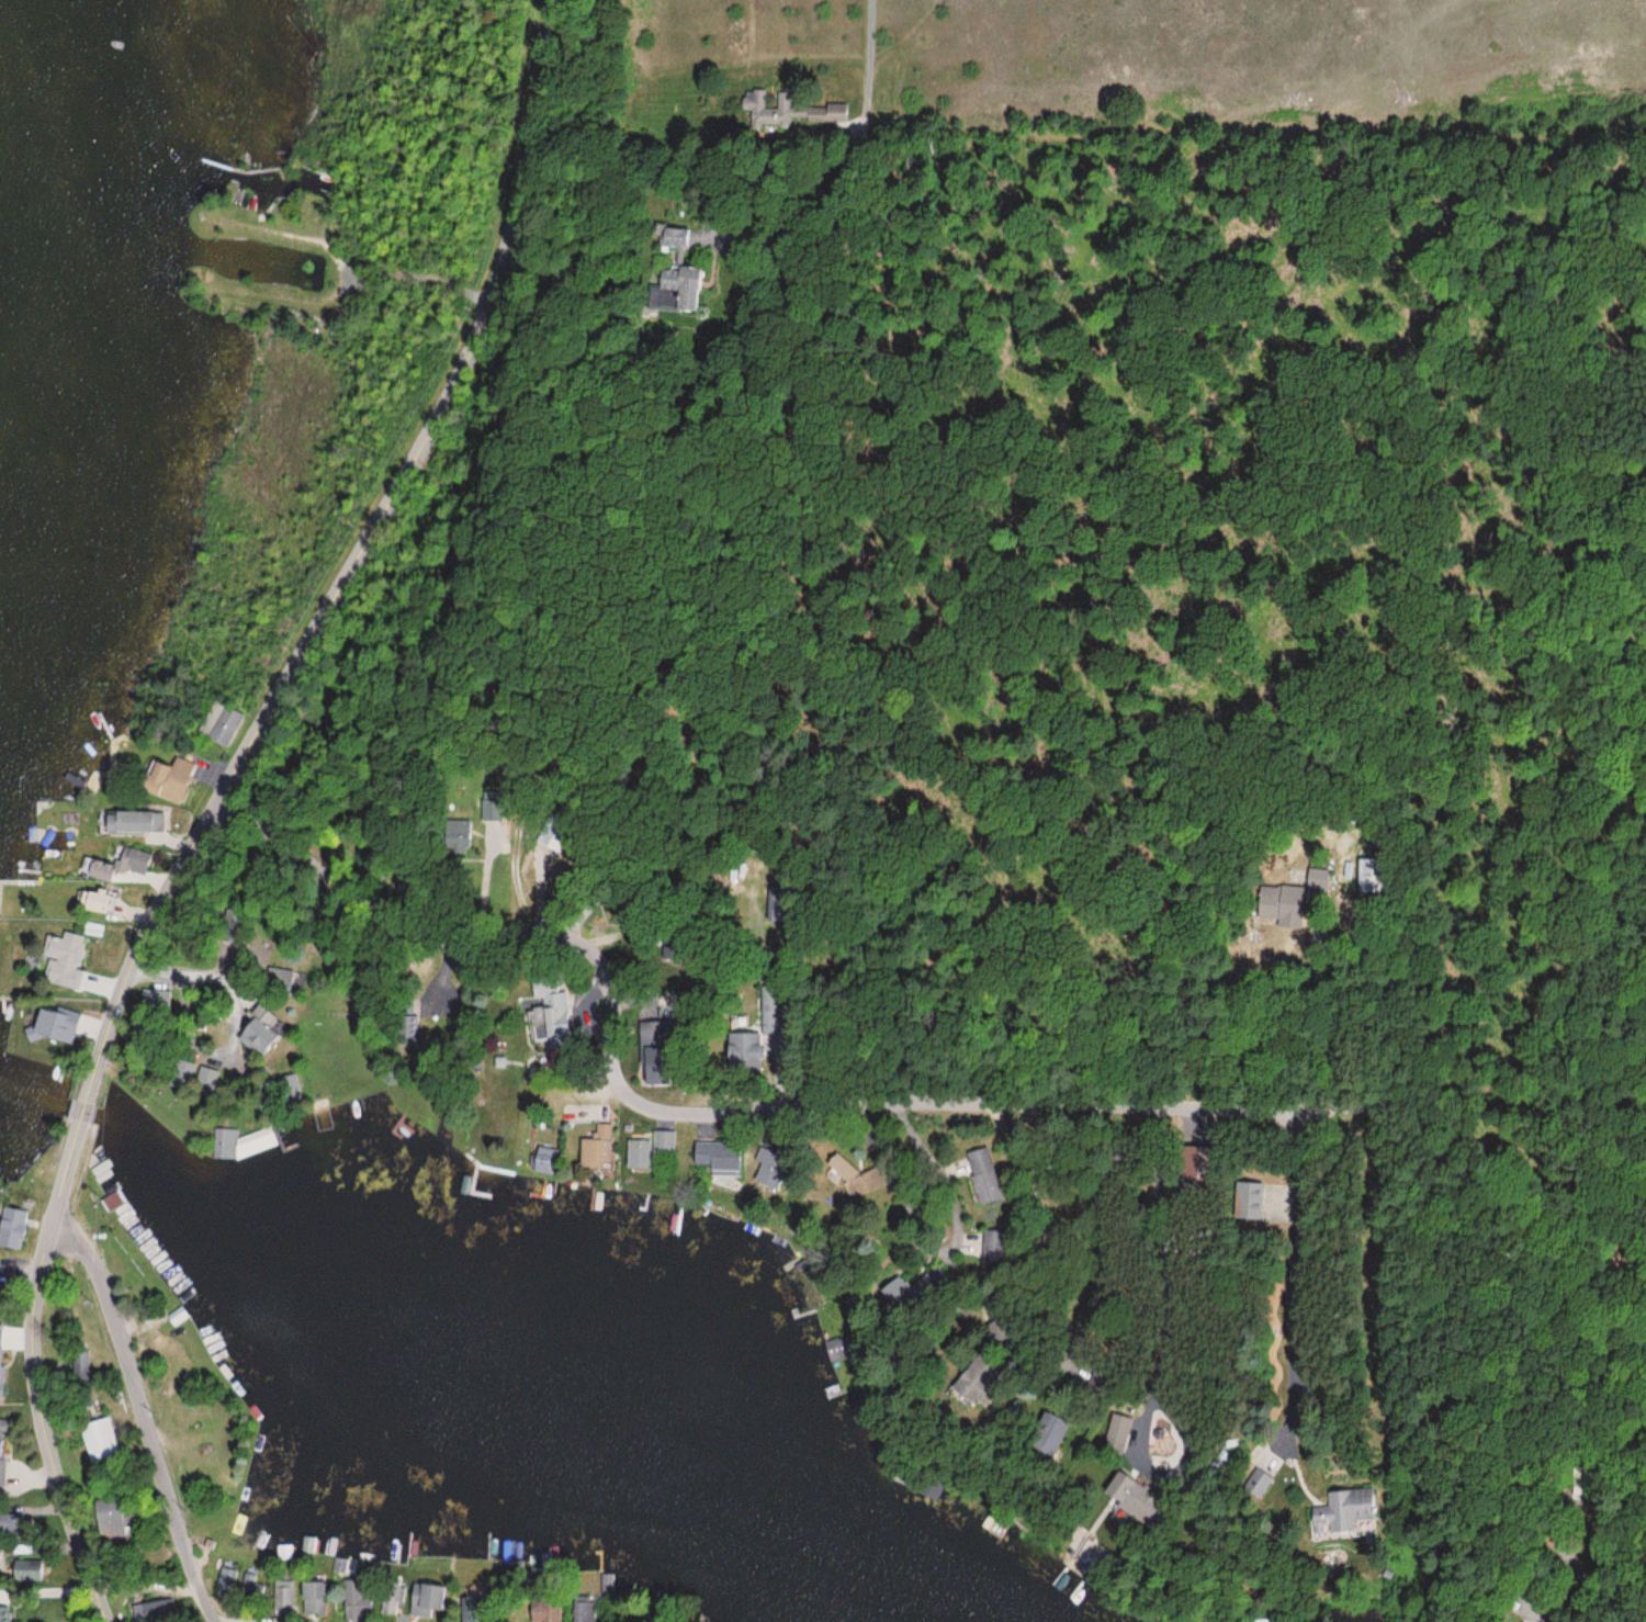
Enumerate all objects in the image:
road: (890, 71)
road: (726, 217)
building: (678, 271)
road: (359, 548)
building: (167, 779)
building: (132, 824)
building: (472, 830)
building: (133, 859)
building: (1296, 899)
road: (824, 925)
building: (49, 951)
building: (554, 1018)
building: (48, 1026)
building: (259, 1034)
building: (656, 1036)
building: (749, 1038)
building: (199, 1081)
road: (1298, 1083)
road: (942, 1100)
road: (80, 1117)
building: (258, 1140)
building: (595, 1149)
building: (647, 1150)
building: (714, 1157)
building: (542, 1160)
building: (767, 1168)
building: (984, 1174)
building: (1251, 1201)
building: (12, 1228)
building: (992, 1247)
building: (918, 1284)
building: (836, 1349)
building: (974, 1382)
road: (41, 1394)
road: (145, 1416)
building: (1041, 1433)
building: (98, 1439)
building: (2, 1448)
building: (1252, 1482)
building: (1131, 1500)
building: (1342, 1510)
building: (109, 1517)
building: (12, 1523)
road: (1307, 1550)
building: (0, 1558)
building: (23, 1574)
road: (144, 1589)
building: (313, 1598)
building: (284, 1599)
building: (393, 1600)
building: (427, 1600)
building: (357, 1601)
building: (543, 1609)
building: (586, 1609)

